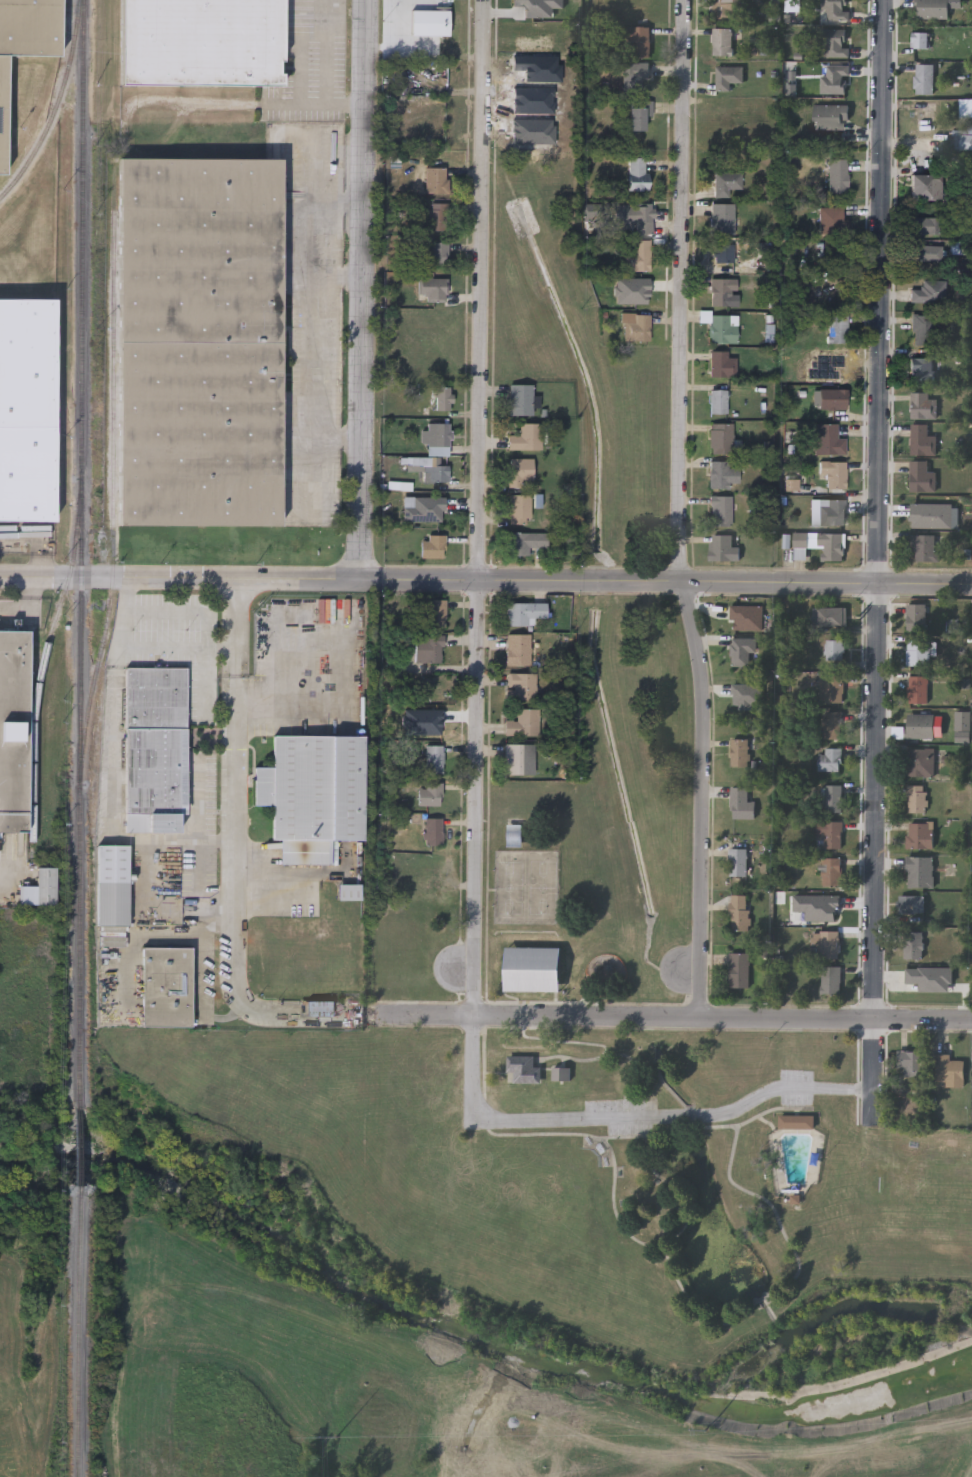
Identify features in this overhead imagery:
building: (728, 8)
building: (836, 9)
building: (933, 9)
building: (430, 22)
building: (920, 39)
building: (722, 40)
building: (638, 41)
building: (202, 42)
building: (835, 42)
building: (25, 44)
road: (328, 52)
building: (636, 69)
building: (729, 75)
building: (835, 78)
building: (924, 78)
road: (313, 103)
railway: (57, 106)
building: (966, 107)
building: (639, 113)
building: (830, 115)
building: (961, 138)
building: (638, 172)
building: (838, 175)
building: (436, 179)
building: (726, 182)
building: (926, 186)
building: (438, 216)
building: (641, 216)
building: (722, 218)
building: (831, 219)
building: (924, 224)
road: (319, 240)
building: (434, 252)
building: (924, 252)
building: (723, 253)
building: (639, 255)
building: (432, 288)
road: (362, 289)
building: (929, 290)
building: (723, 291)
building: (635, 325)
building: (721, 325)
building: (837, 328)
building: (921, 328)
building: (201, 342)
building: (723, 363)
building: (921, 367)
road: (319, 375)
building: (443, 397)
building: (521, 398)
building: (830, 398)
building: (718, 400)
building: (923, 405)
building: (27, 410)
building: (527, 436)
building: (437, 437)
building: (721, 437)
building: (828, 438)
building: (923, 439)
building: (429, 467)
building: (519, 470)
building: (834, 473)
building: (722, 474)
building: (922, 476)
railway: (114, 490)
building: (423, 507)
building: (520, 508)
road: (479, 509)
road: (678, 510)
building: (721, 510)
building: (832, 511)
building: (524, 541)
building: (822, 543)
building: (432, 546)
building: (925, 547)
building: (723, 548)
railway: (80, 552)
road: (877, 557)
road: (485, 582)
road: (25, 602)
building: (523, 611)
building: (433, 612)
building: (737, 614)
building: (830, 615)
building: (916, 617)
road: (148, 647)
building: (428, 647)
building: (517, 648)
building: (833, 649)
building: (741, 651)
building: (917, 652)
road: (120, 657)
railway: (43, 661)
road: (206, 679)
building: (521, 685)
building: (831, 688)
building: (917, 689)
building: (742, 697)
road: (296, 701)
building: (523, 721)
building: (831, 724)
building: (920, 725)
building: (13, 730)
building: (154, 749)
building: (739, 751)
building: (516, 757)
road: (115, 758)
building: (433, 758)
building: (829, 759)
building: (921, 762)
building: (429, 793)
building: (312, 795)
building: (832, 797)
building: (917, 798)
road: (198, 799)
building: (740, 803)
building: (432, 830)
building: (830, 832)
building: (920, 835)
building: (514, 838)
road: (183, 839)
road: (239, 846)
building: (1, 848)
building: (737, 861)
building: (831, 870)
building: (920, 871)
building: (111, 885)
building: (206, 885)
building: (42, 890)
building: (911, 903)
building: (739, 912)
building: (829, 943)
building: (912, 944)
park: (586, 952)
building: (533, 968)
building: (739, 969)
building: (830, 978)
building: (166, 987)
road: (671, 1019)
building: (910, 1063)
building: (521, 1069)
building: (949, 1070)
road: (628, 1118)
building: (795, 1122)
railway: (80, 1145)
railway: (80, 1330)
power tower: (708, 1432)
power tower: (337, 1439)

